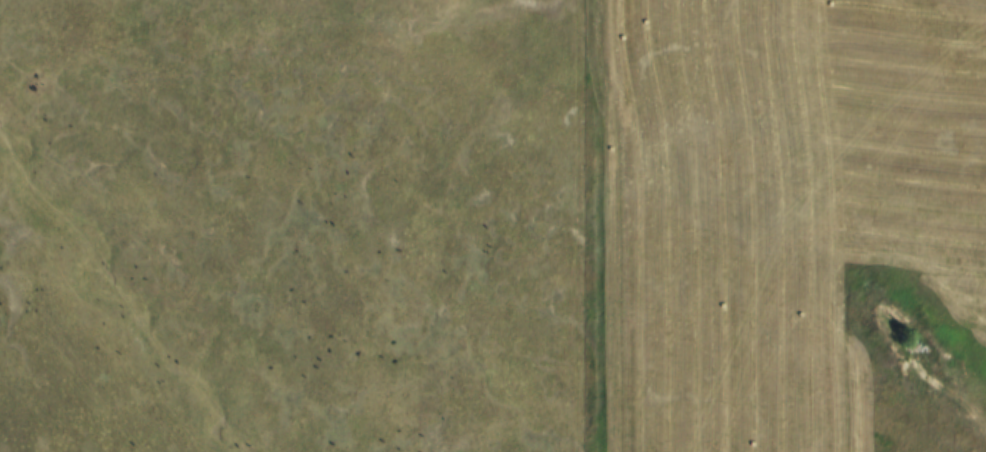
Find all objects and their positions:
road: (616, 226)

